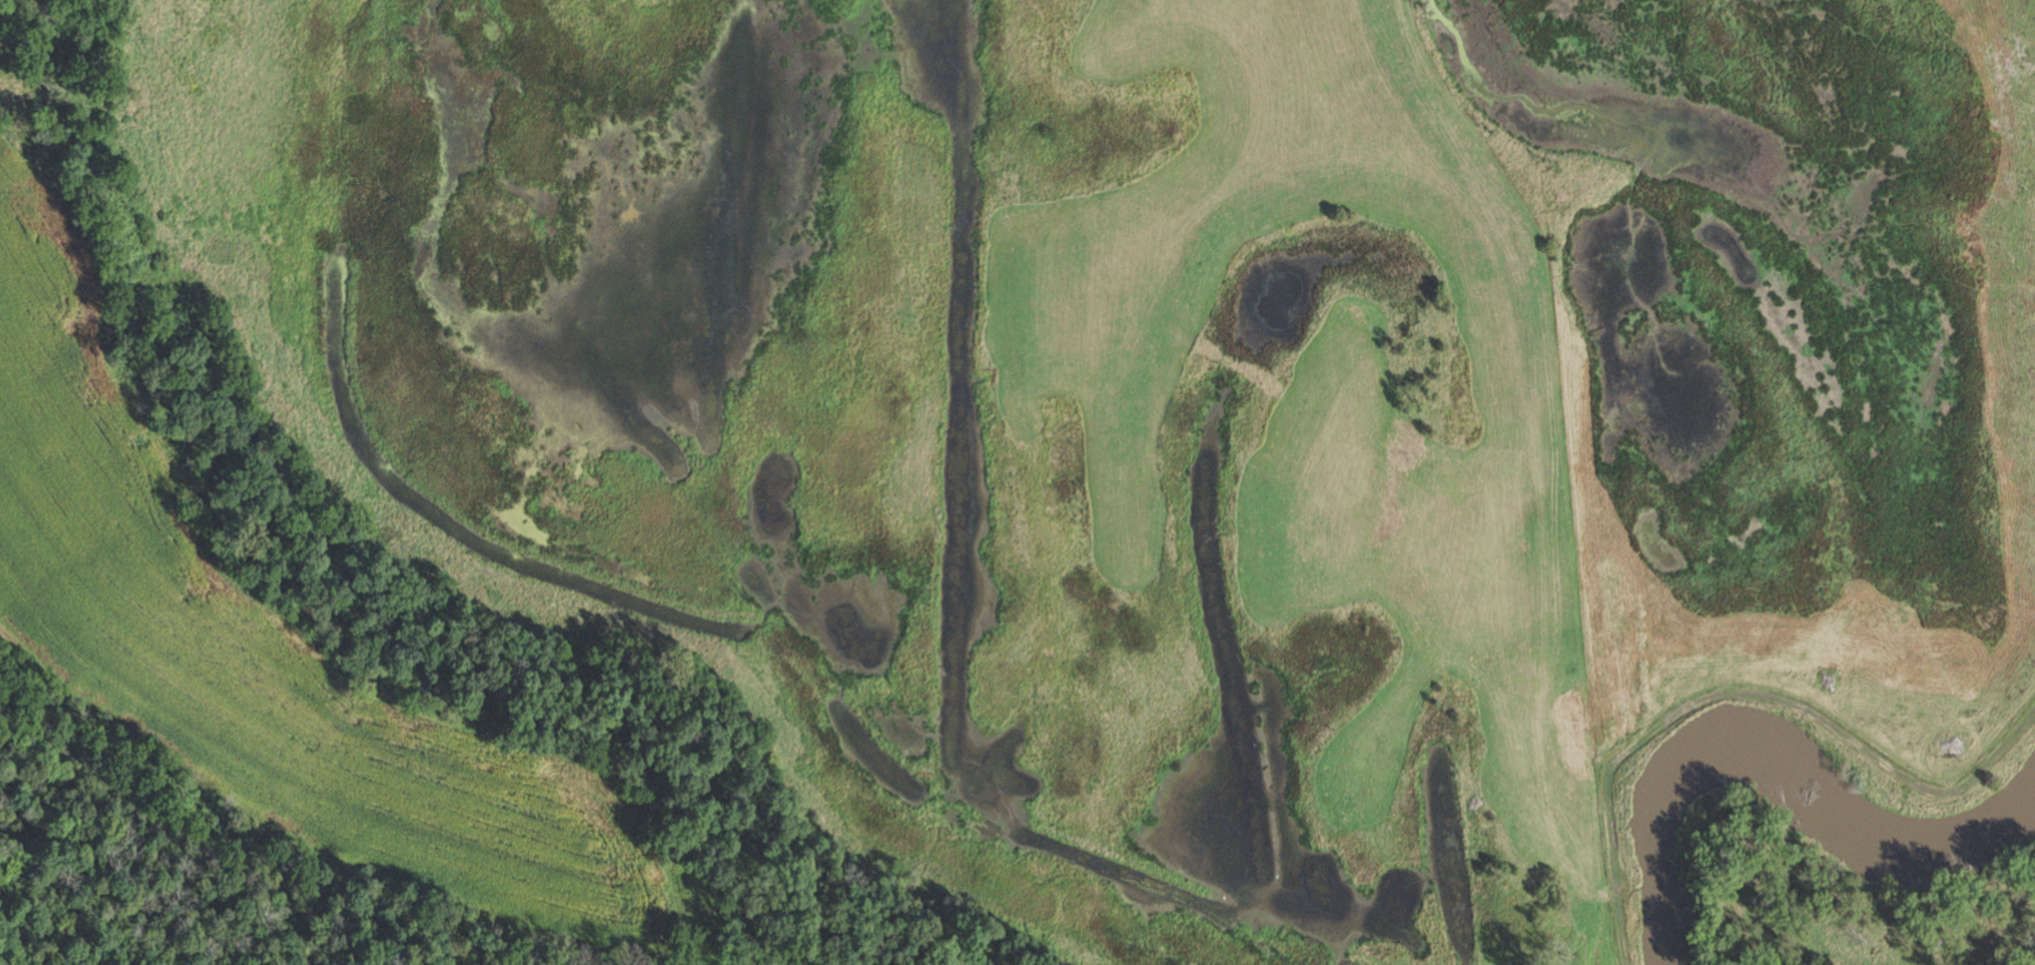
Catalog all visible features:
river: (1779, 758)

